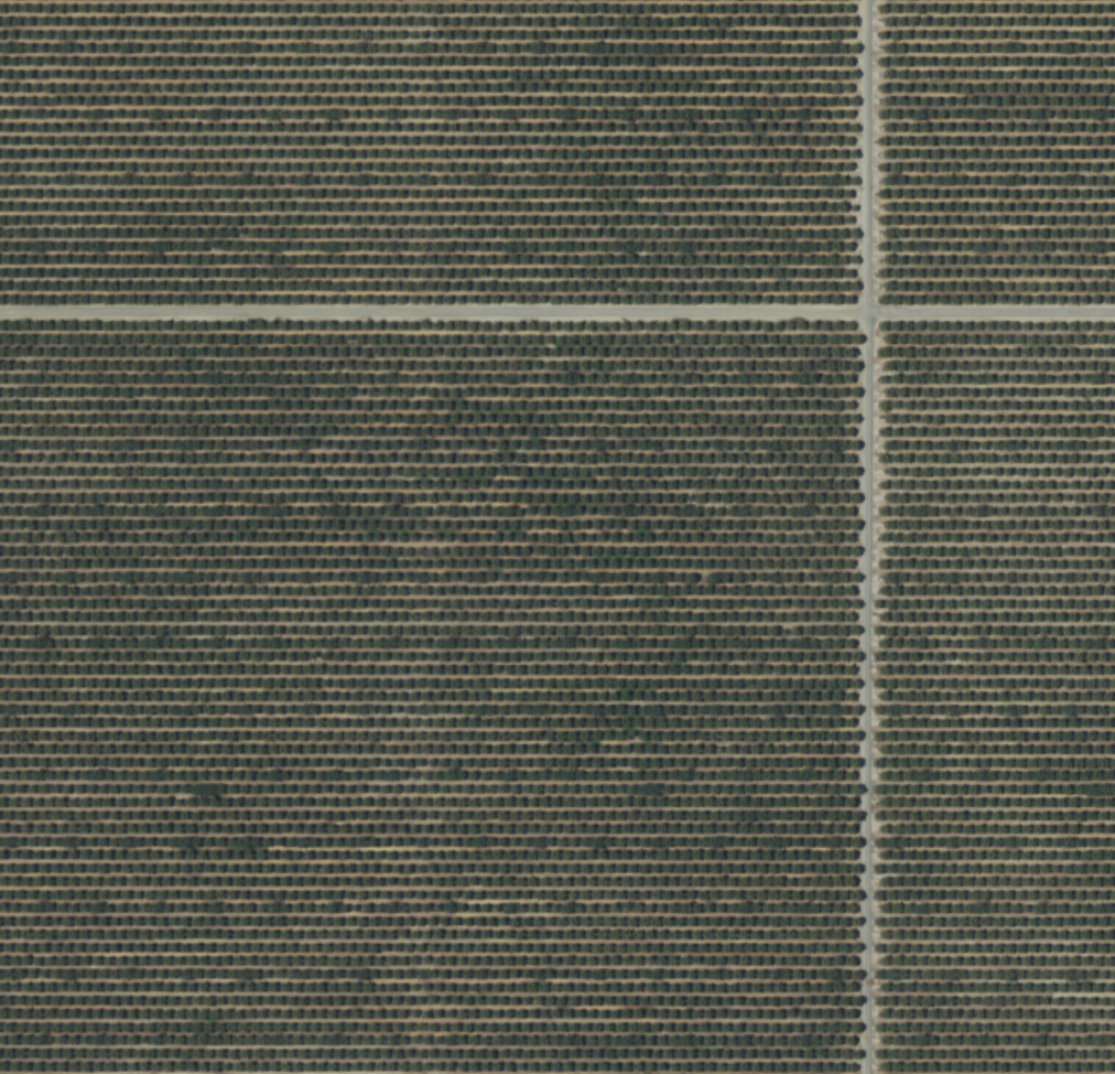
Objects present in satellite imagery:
road: (557, 316)
road: (858, 536)
crop: (557, 537)

